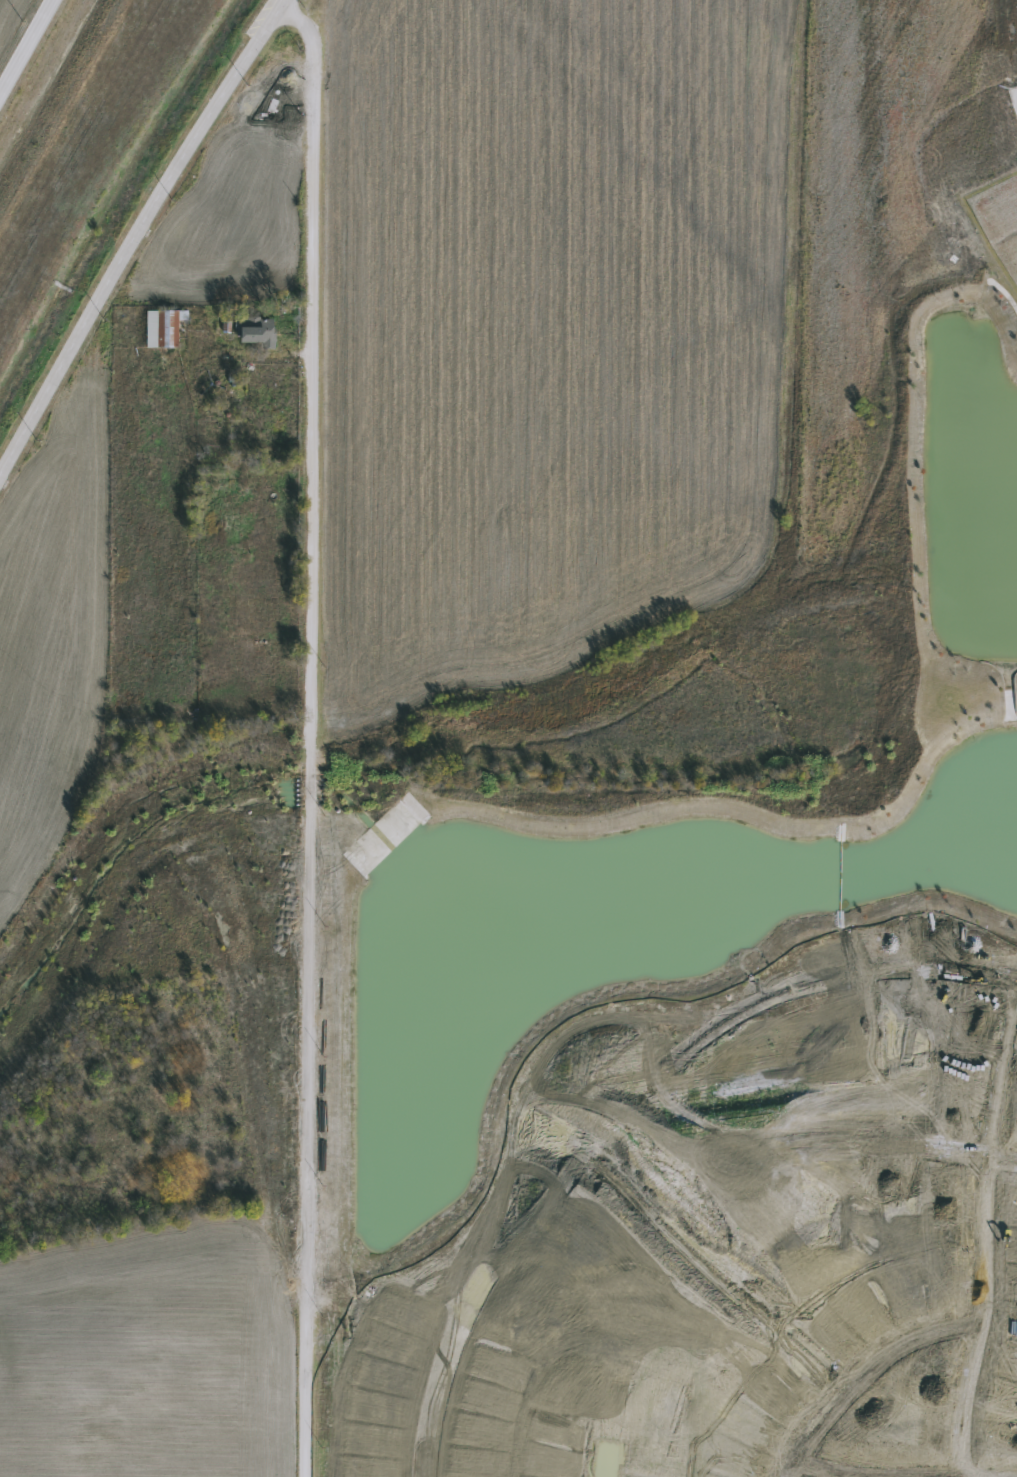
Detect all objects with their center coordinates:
road: (1008, 37)
road: (26, 46)
road: (140, 236)
building: (160, 327)
building: (248, 329)
road: (818, 534)
park: (638, 666)
road: (313, 734)
road: (632, 1112)
road: (759, 1237)
road: (987, 1246)
road: (722, 1270)
road: (868, 1372)
park: (906, 1413)
road: (832, 1473)

